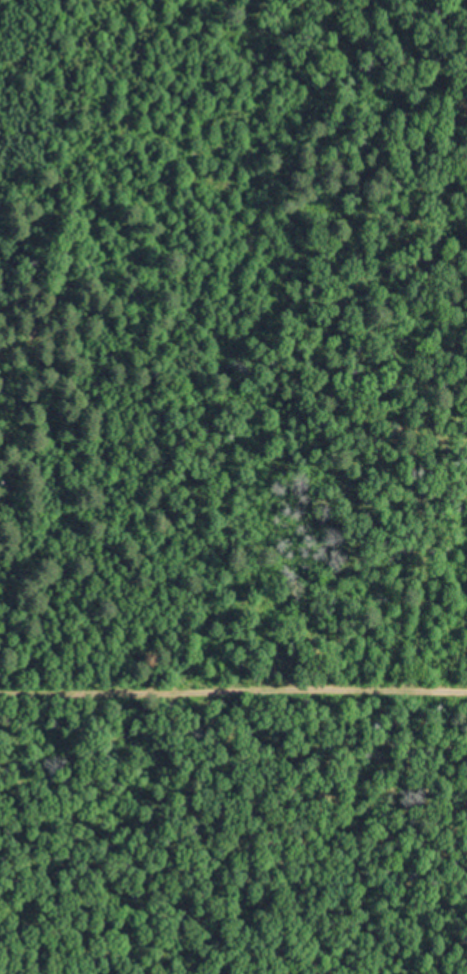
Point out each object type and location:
road: (233, 667)

